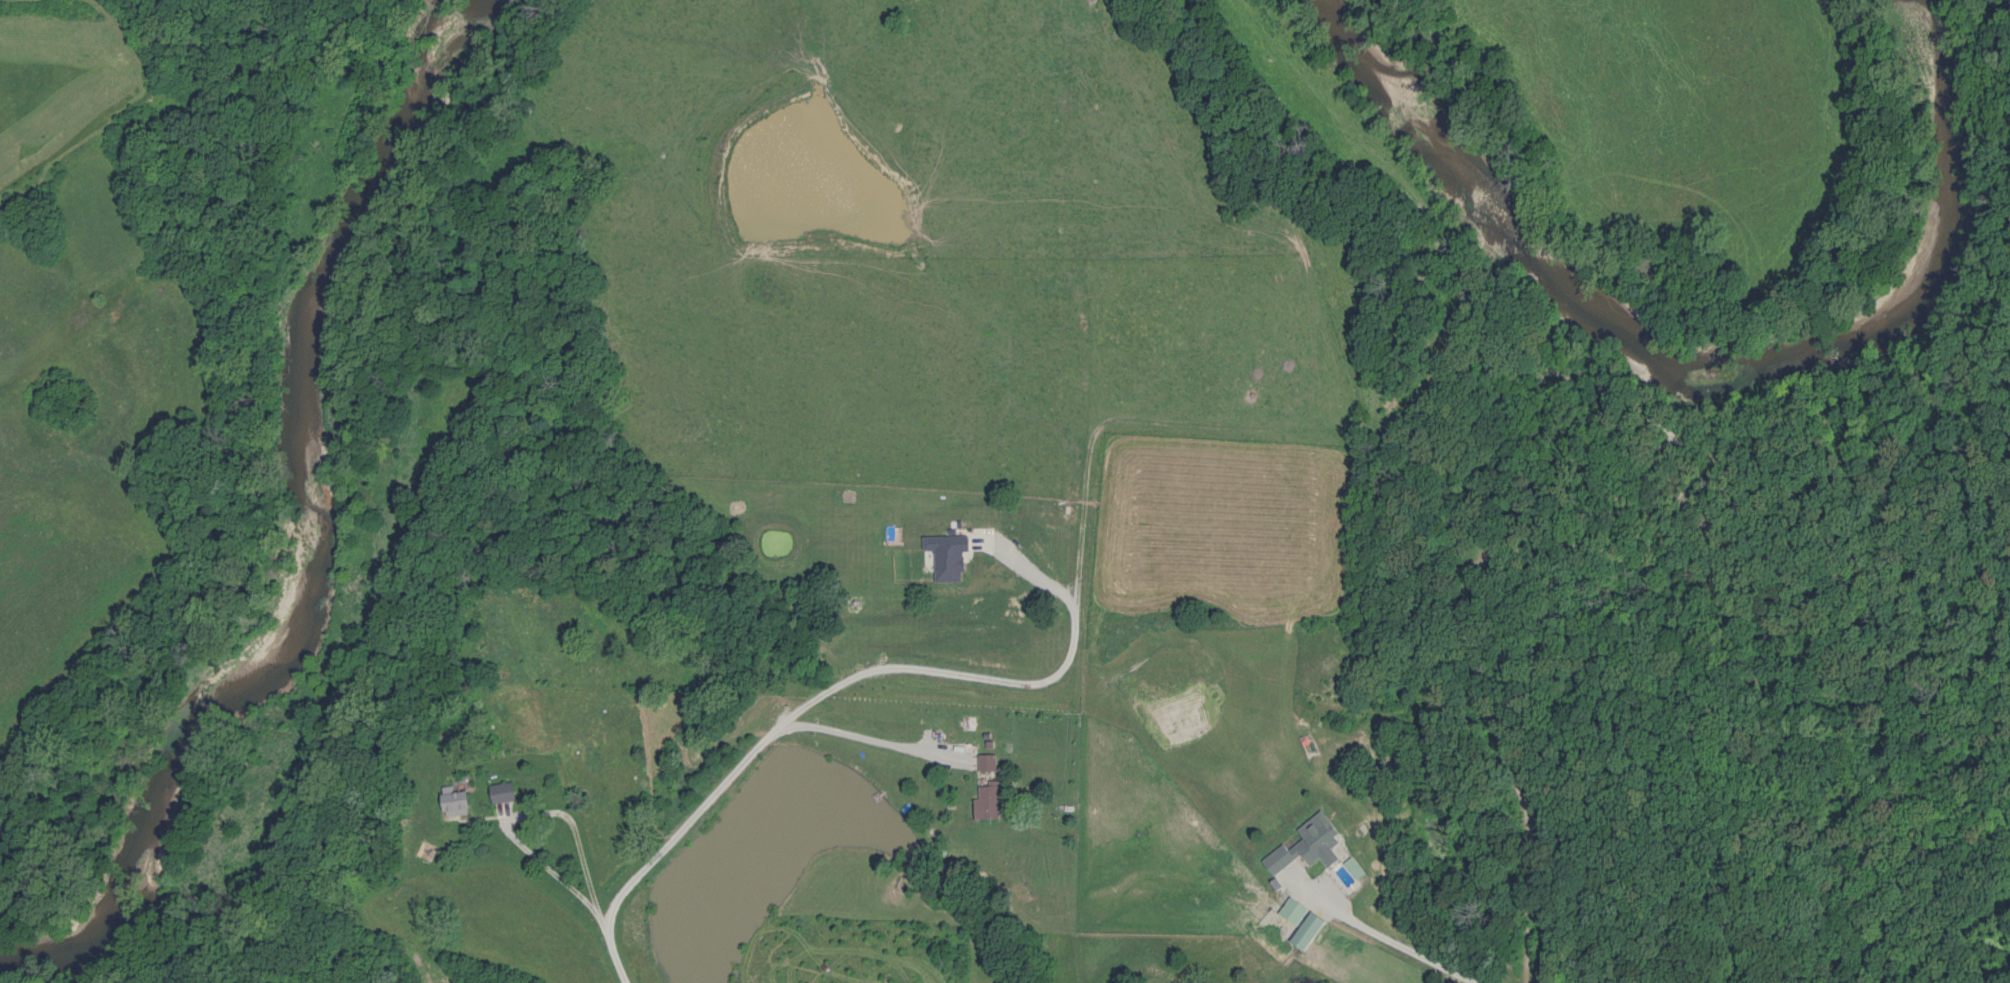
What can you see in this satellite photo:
road: (857, 673)
road: (858, 736)
building: (987, 762)
building: (504, 792)
building: (988, 800)
building: (457, 801)
road: (518, 814)
building: (1309, 846)
building: (1355, 868)
building: (1294, 911)
building: (1308, 930)
road: (1388, 940)
road: (607, 948)

